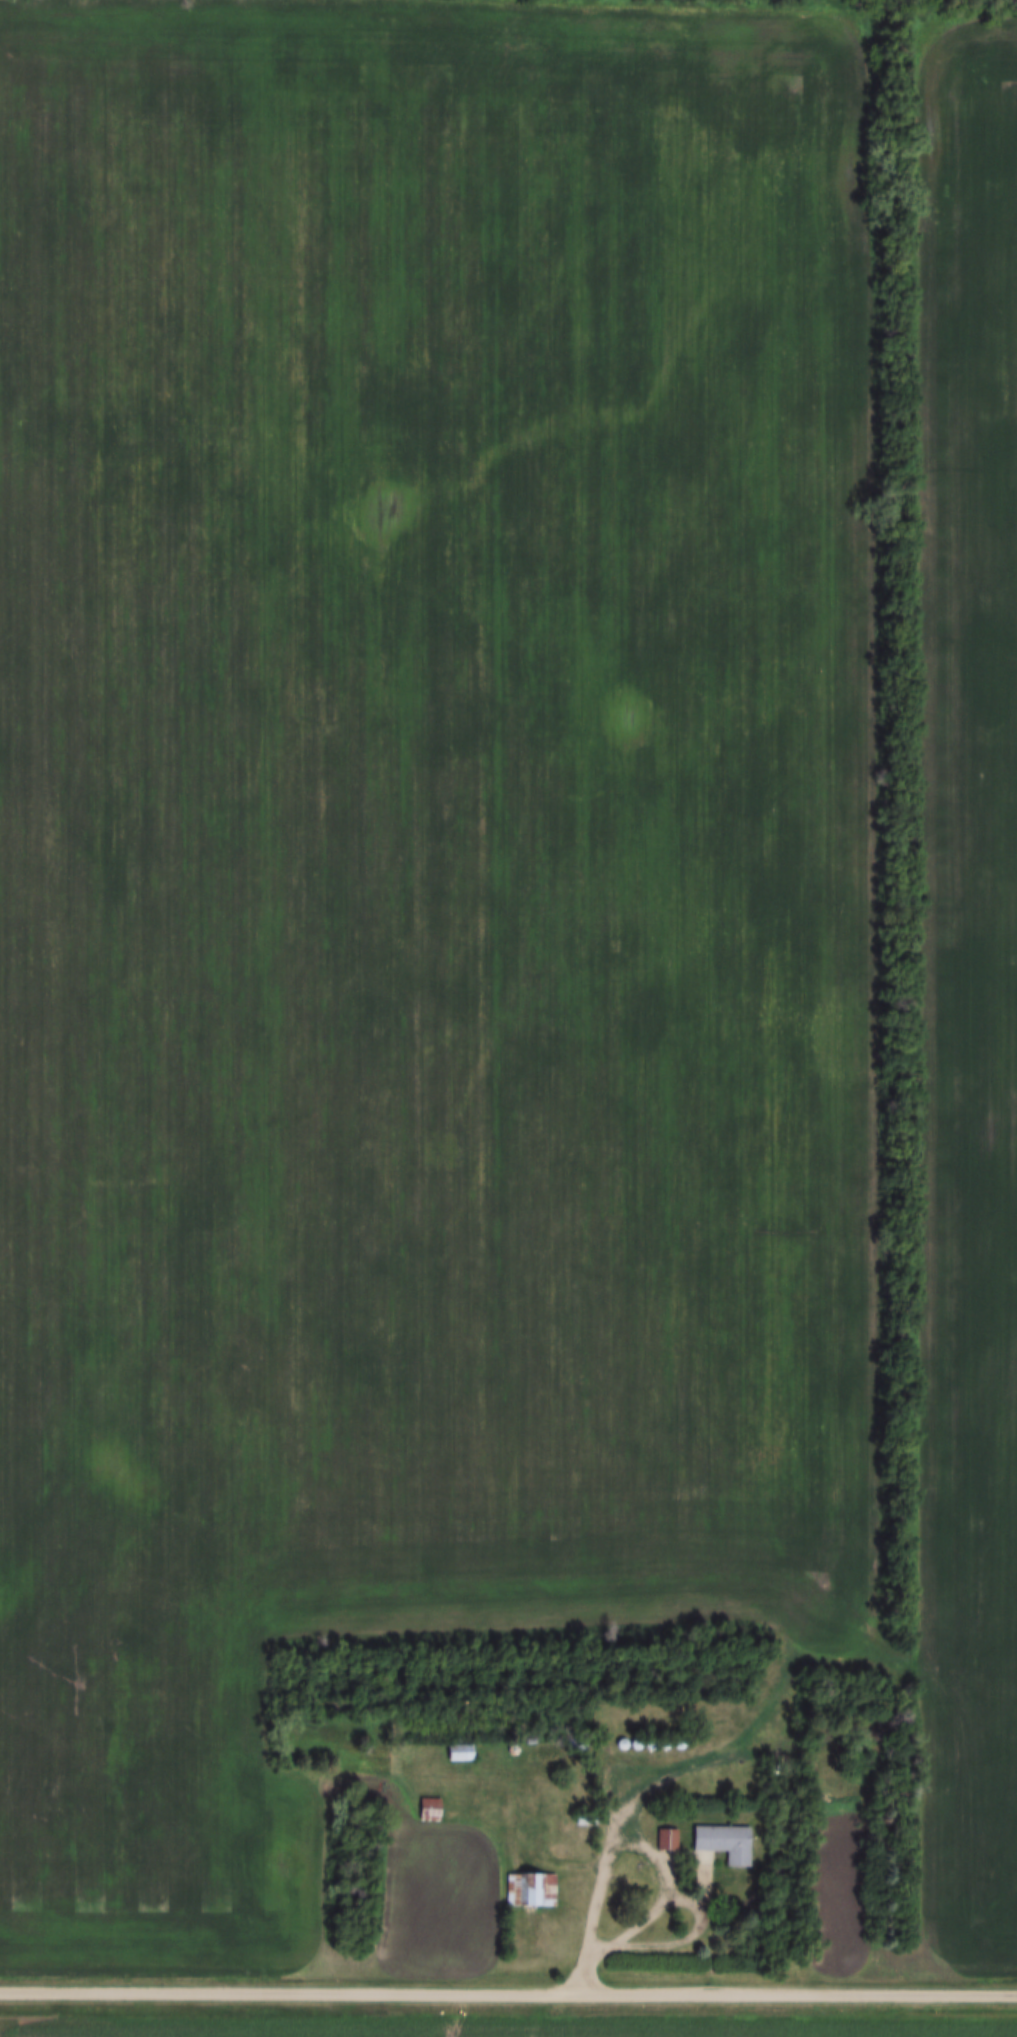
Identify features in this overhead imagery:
building: (454, 1752)
building: (426, 1809)
road: (617, 1829)
building: (664, 1839)
building: (719, 1843)
building: (527, 1891)
road: (508, 1993)

